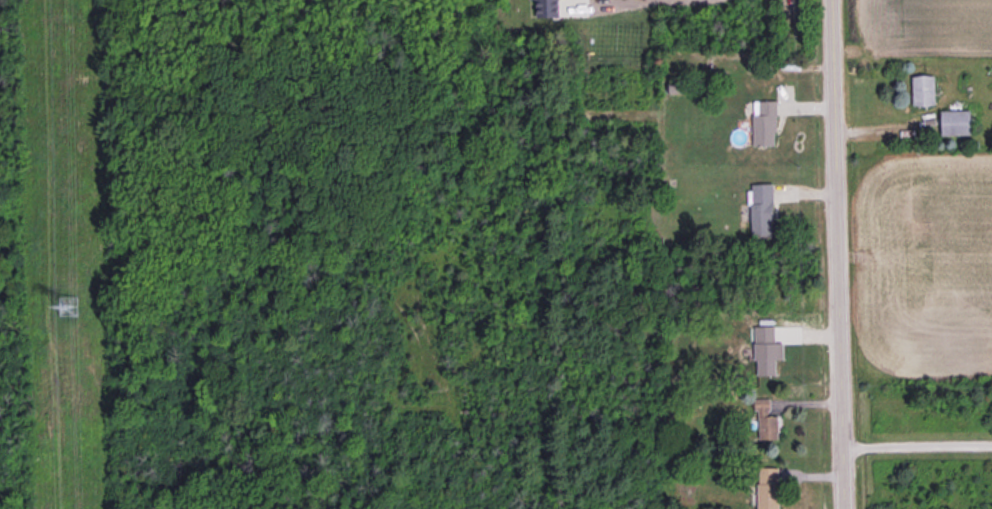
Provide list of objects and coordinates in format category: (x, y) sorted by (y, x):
road: (623, 4)
building: (547, 8)
building: (764, 122)
building: (955, 122)
building: (762, 209)
road: (838, 254)
power tower: (67, 304)
building: (766, 350)
building: (766, 420)
road: (917, 443)
building: (768, 488)

